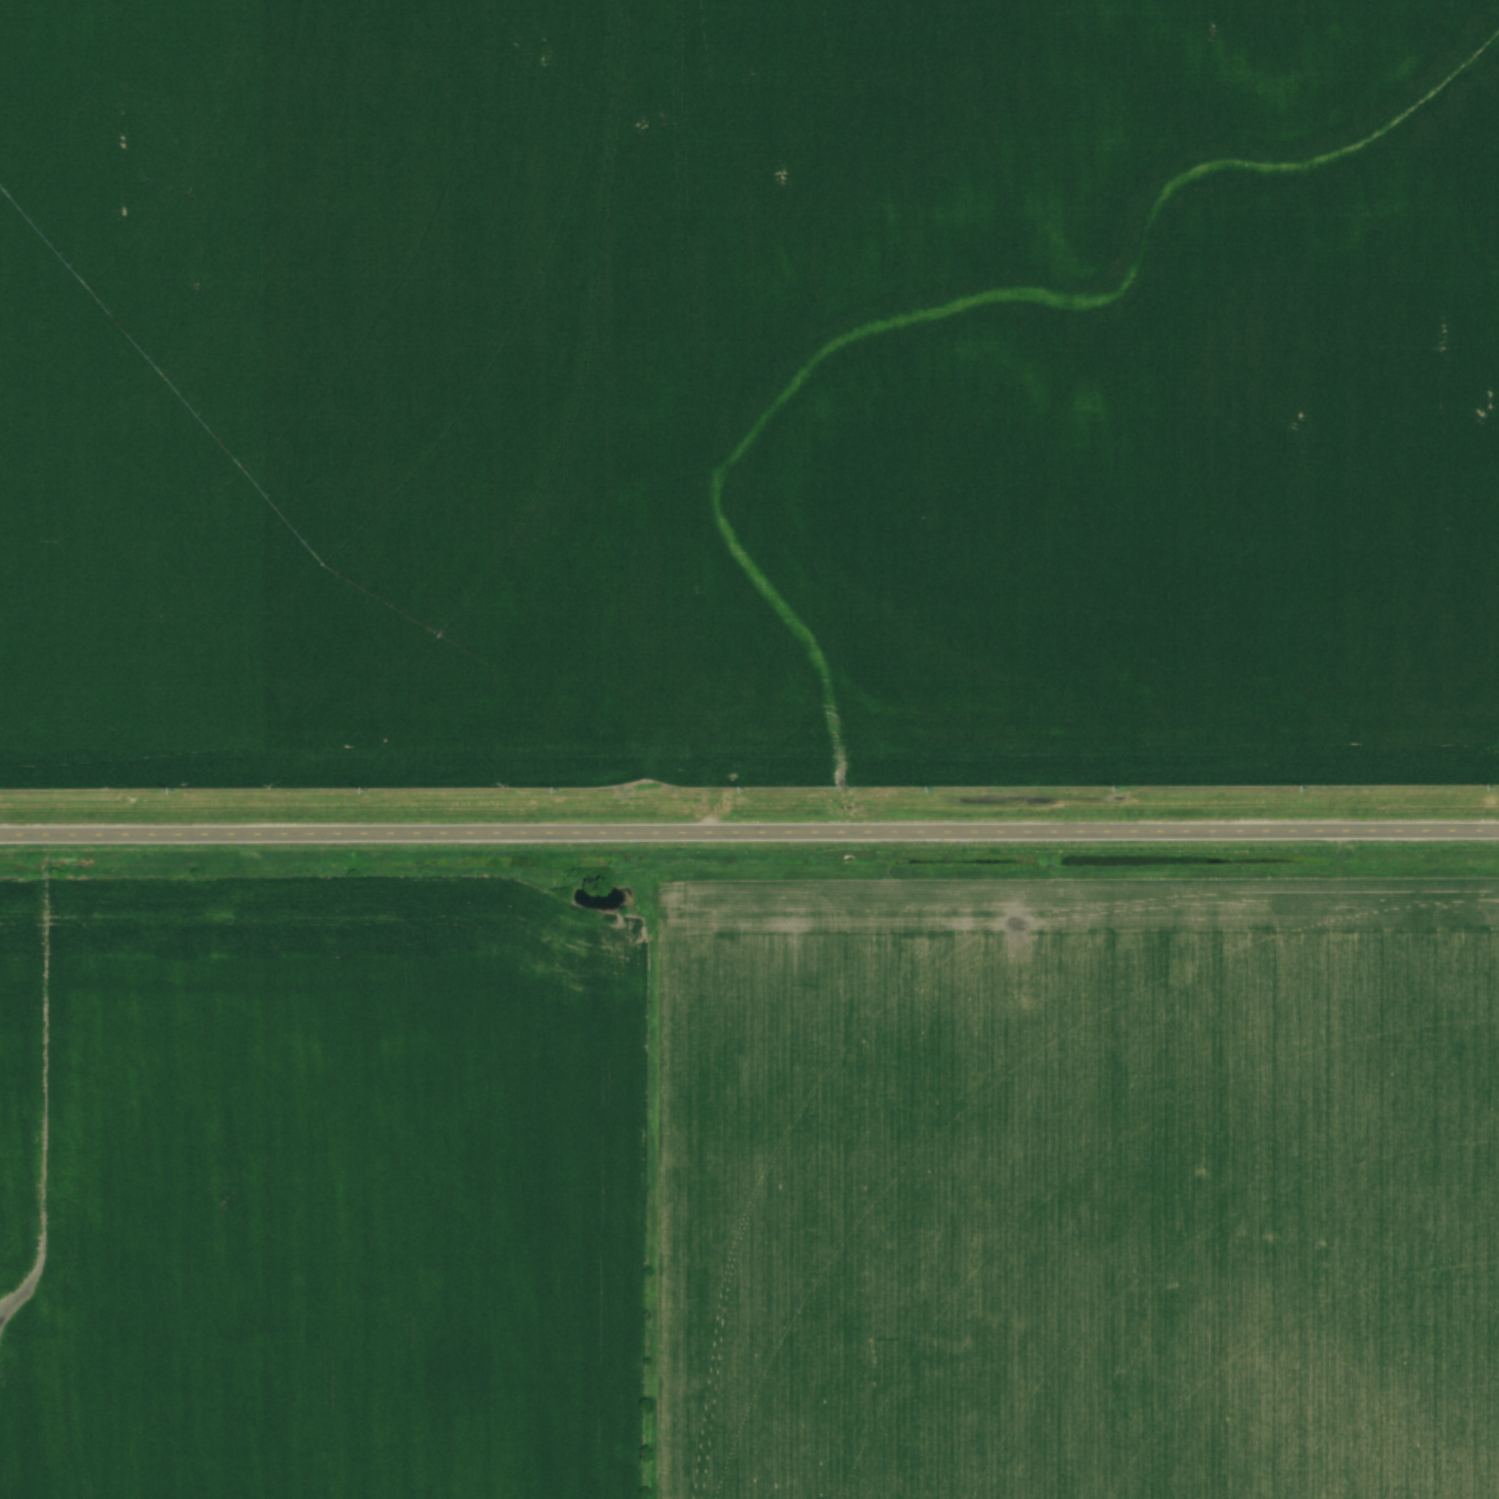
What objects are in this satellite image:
road: (749, 832)

